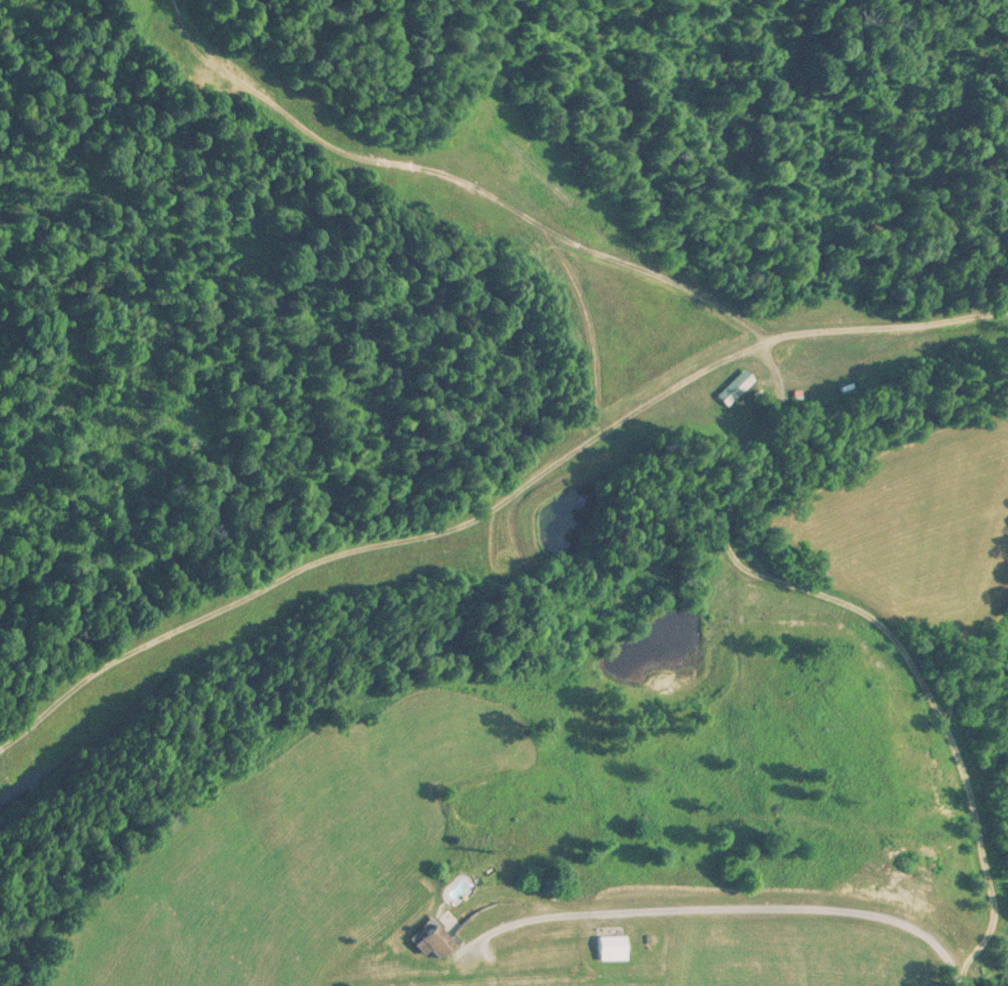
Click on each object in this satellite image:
road: (817, 429)
building: (427, 940)
building: (603, 949)

